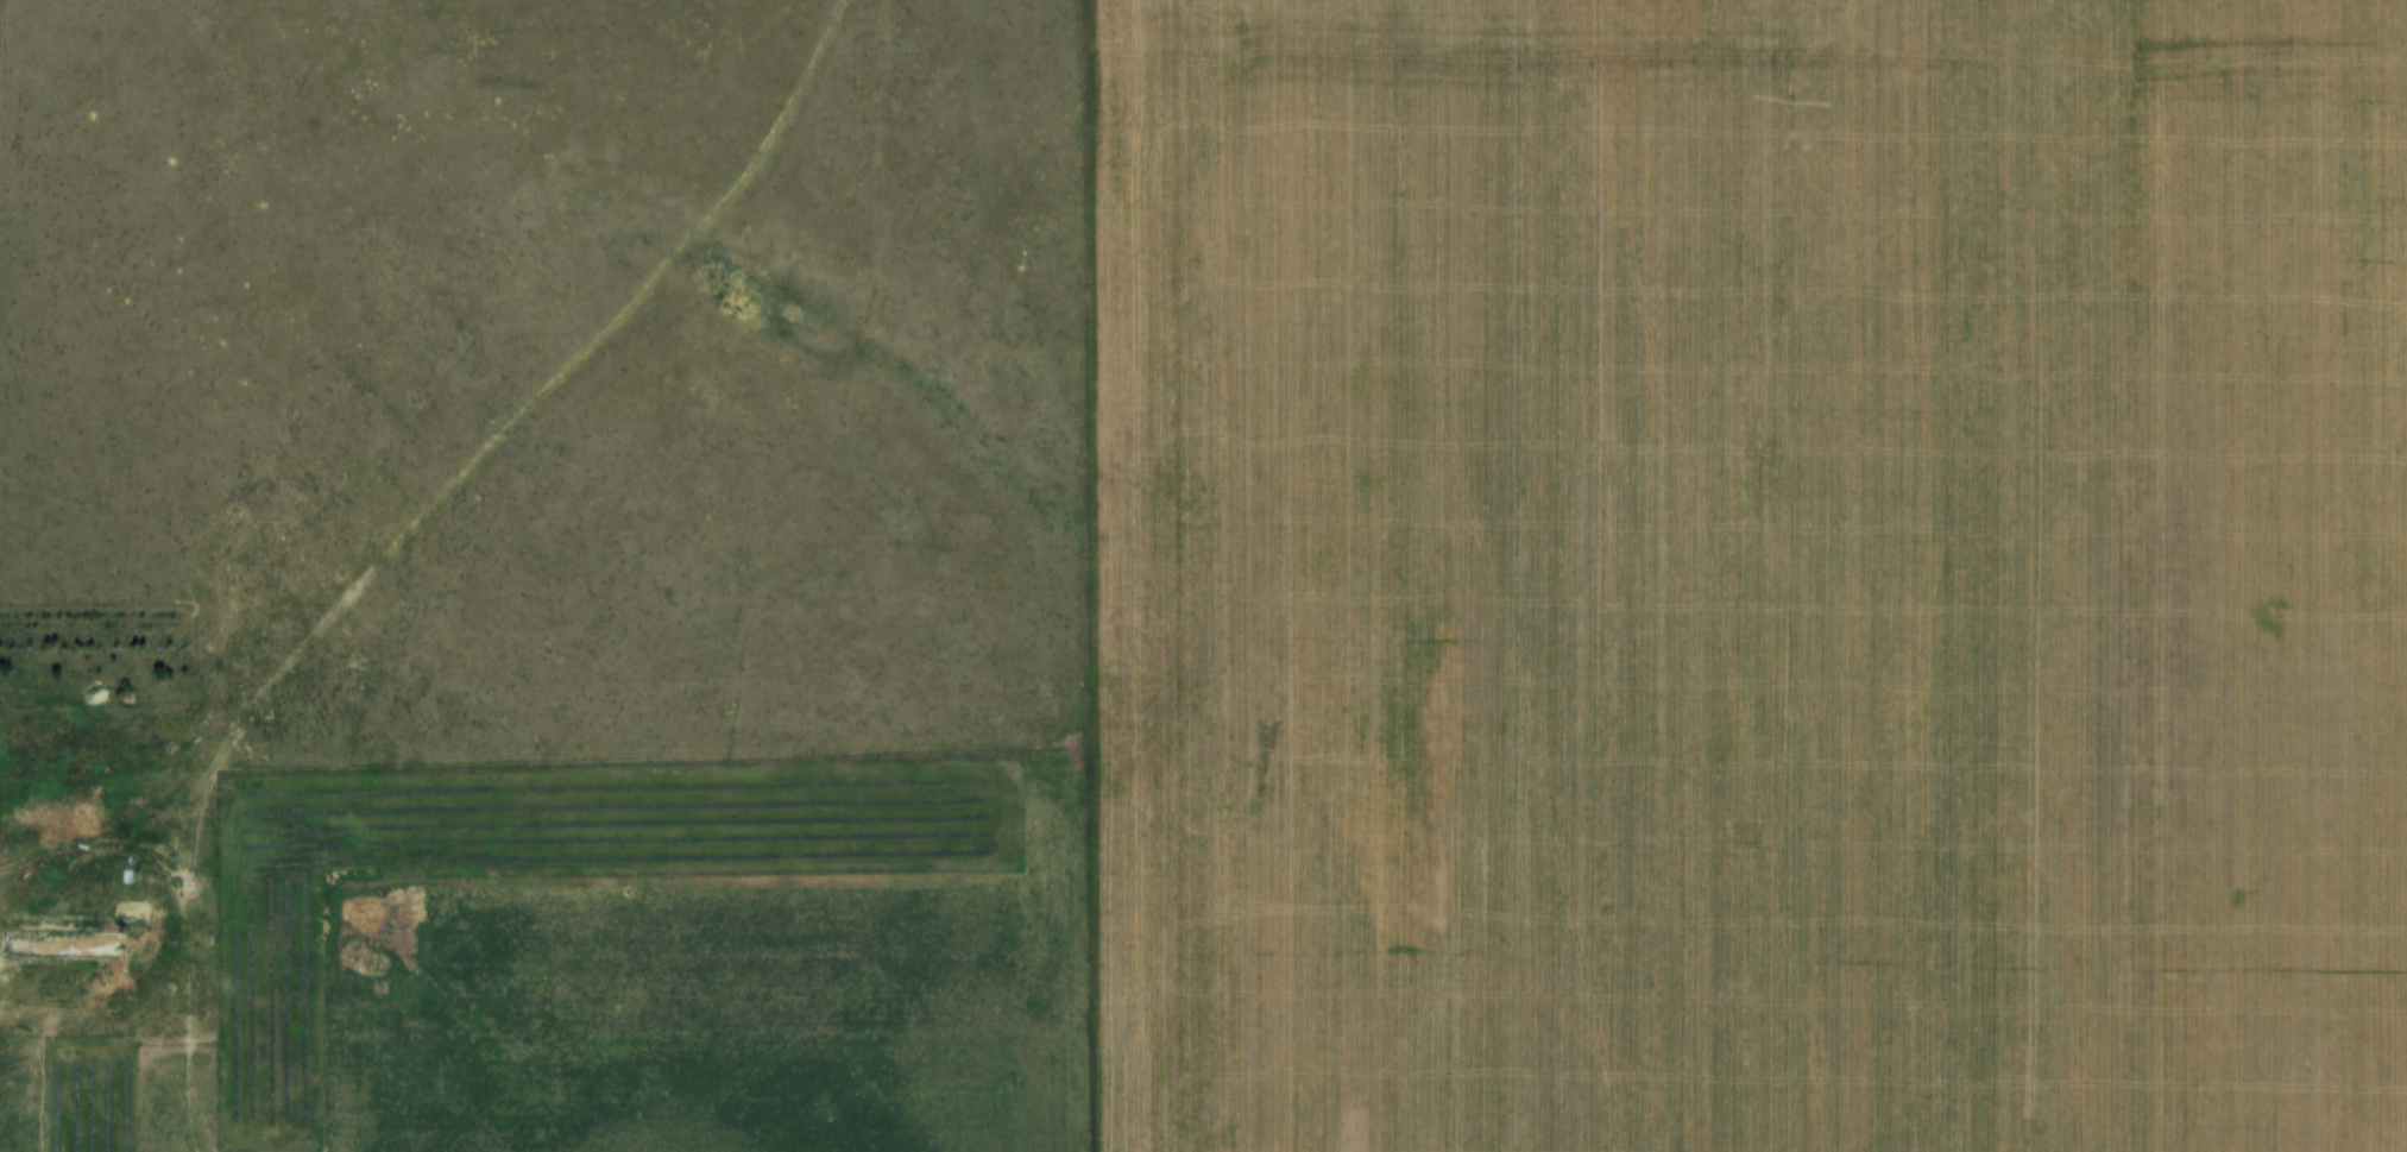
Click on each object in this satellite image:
building: (125, 932)
building: (89, 949)

